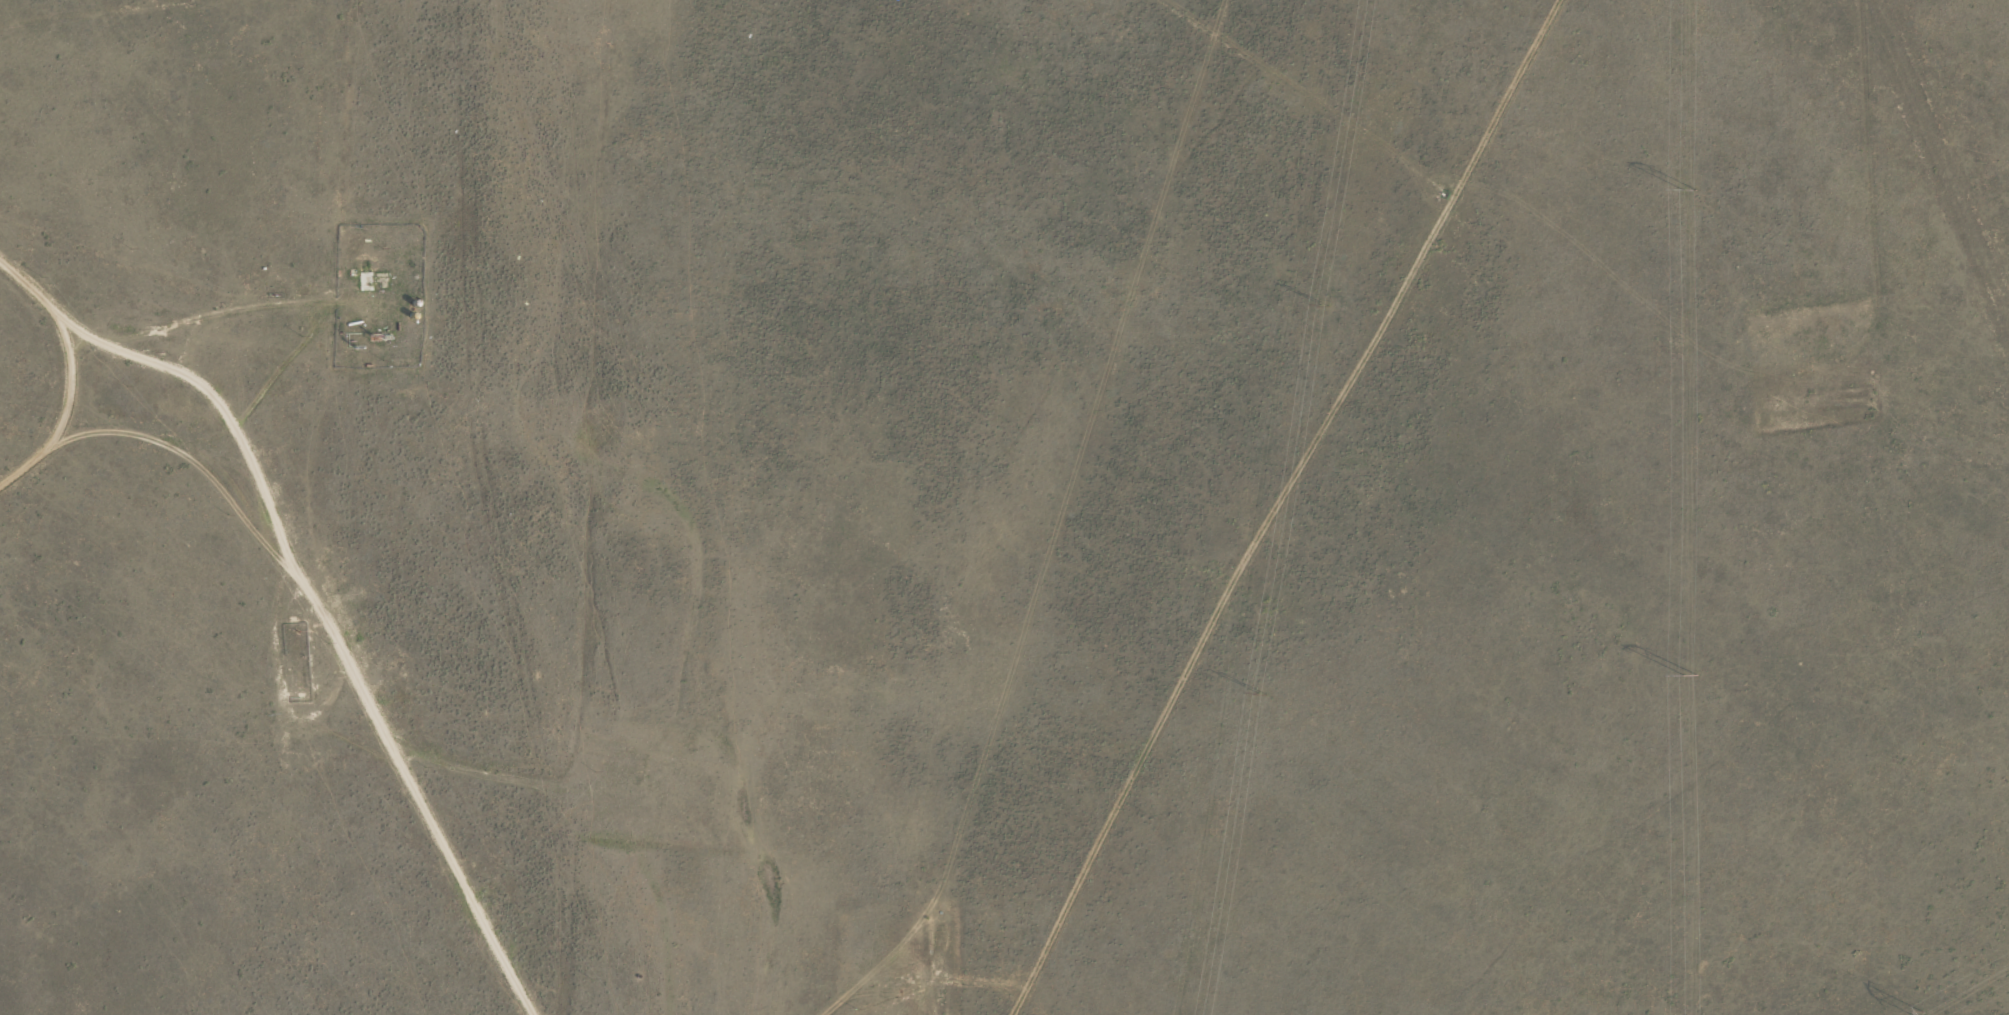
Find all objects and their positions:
road: (320, 15)
power tower: (1689, 191)
power tower: (1323, 304)
road: (65, 320)
road: (367, 607)
power tower: (1690, 675)
power tower: (1262, 694)
power tower: (1924, 1013)

